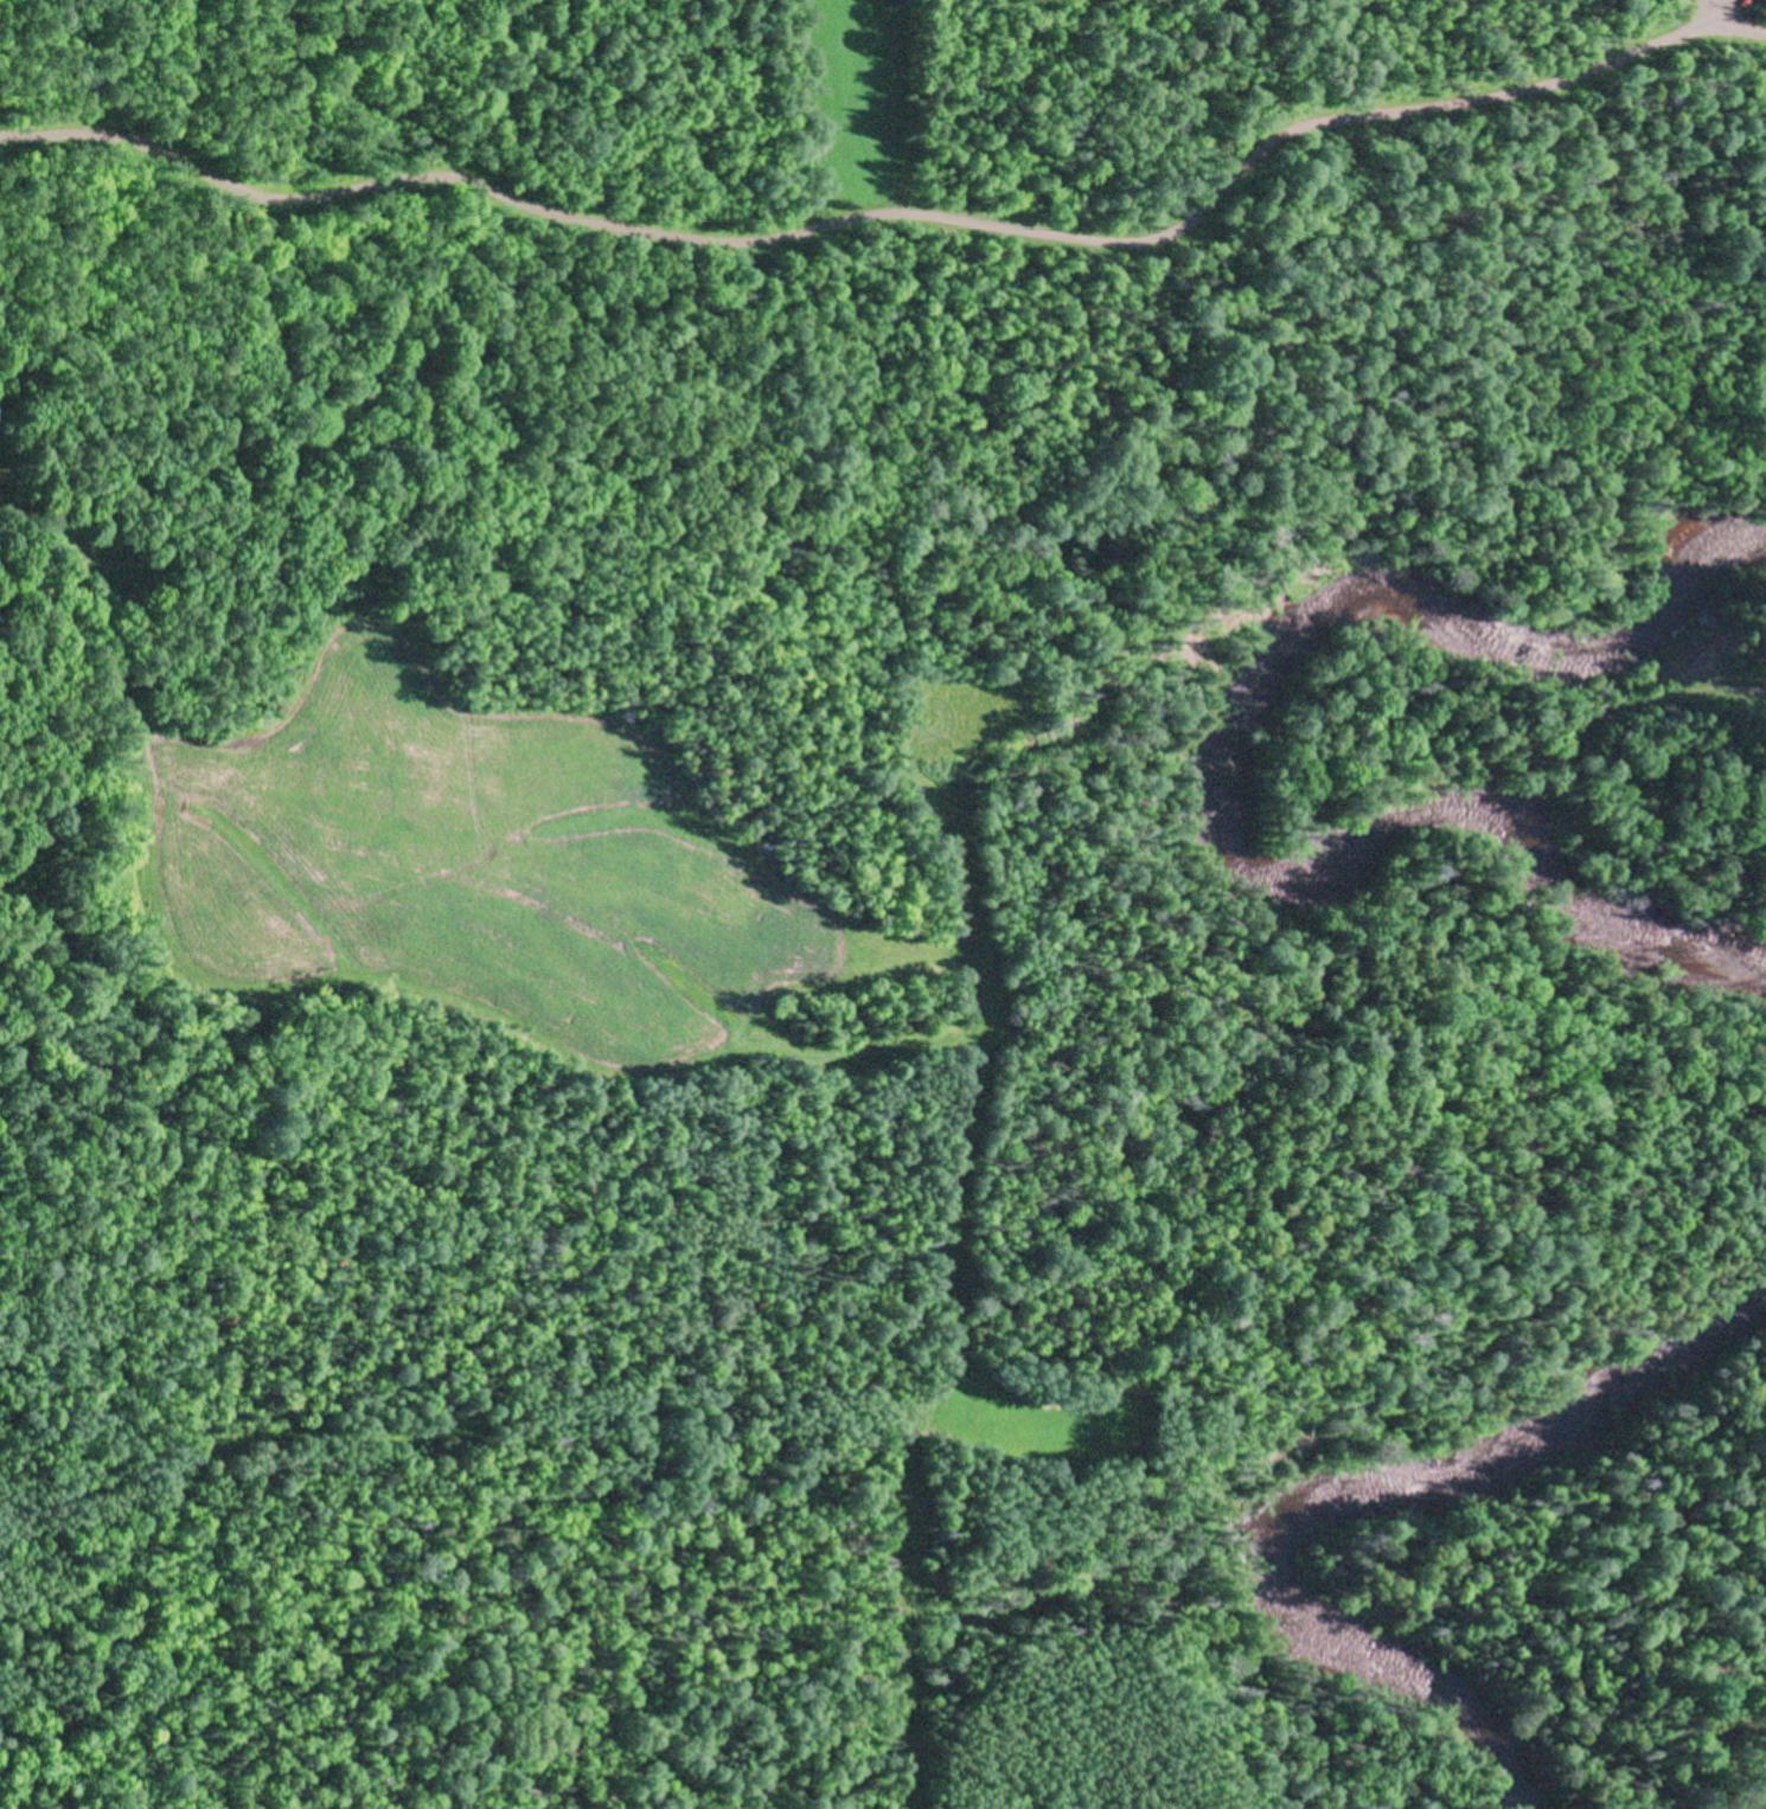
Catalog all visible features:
road: (894, 211)
river: (1247, 785)
river: (1381, 1496)

